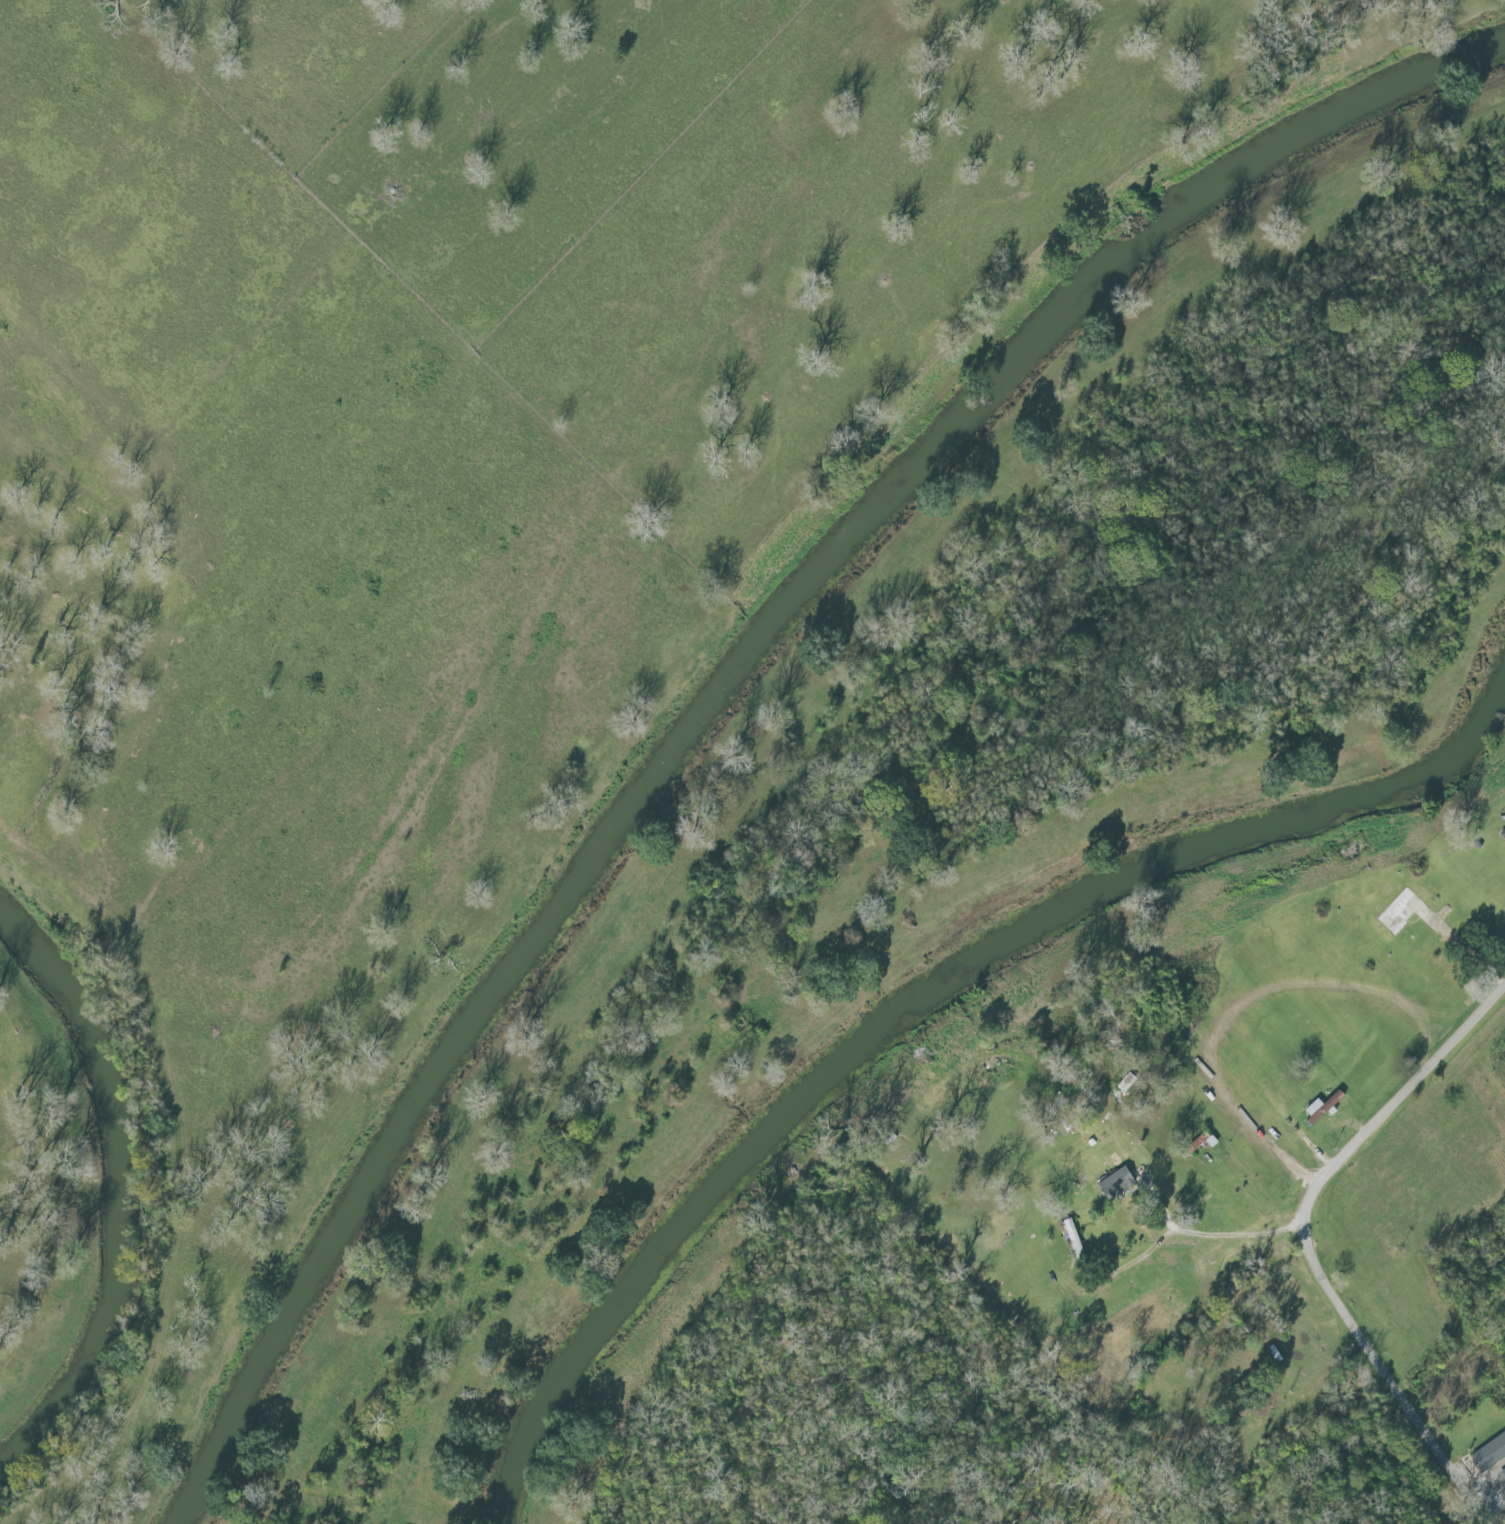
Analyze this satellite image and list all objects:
building: (1324, 1107)
building: (1209, 1140)
building: (1120, 1180)
building: (1076, 1241)
road: (1312, 1248)
building: (1489, 1451)
building: (1503, 1469)
building: (1503, 1473)

